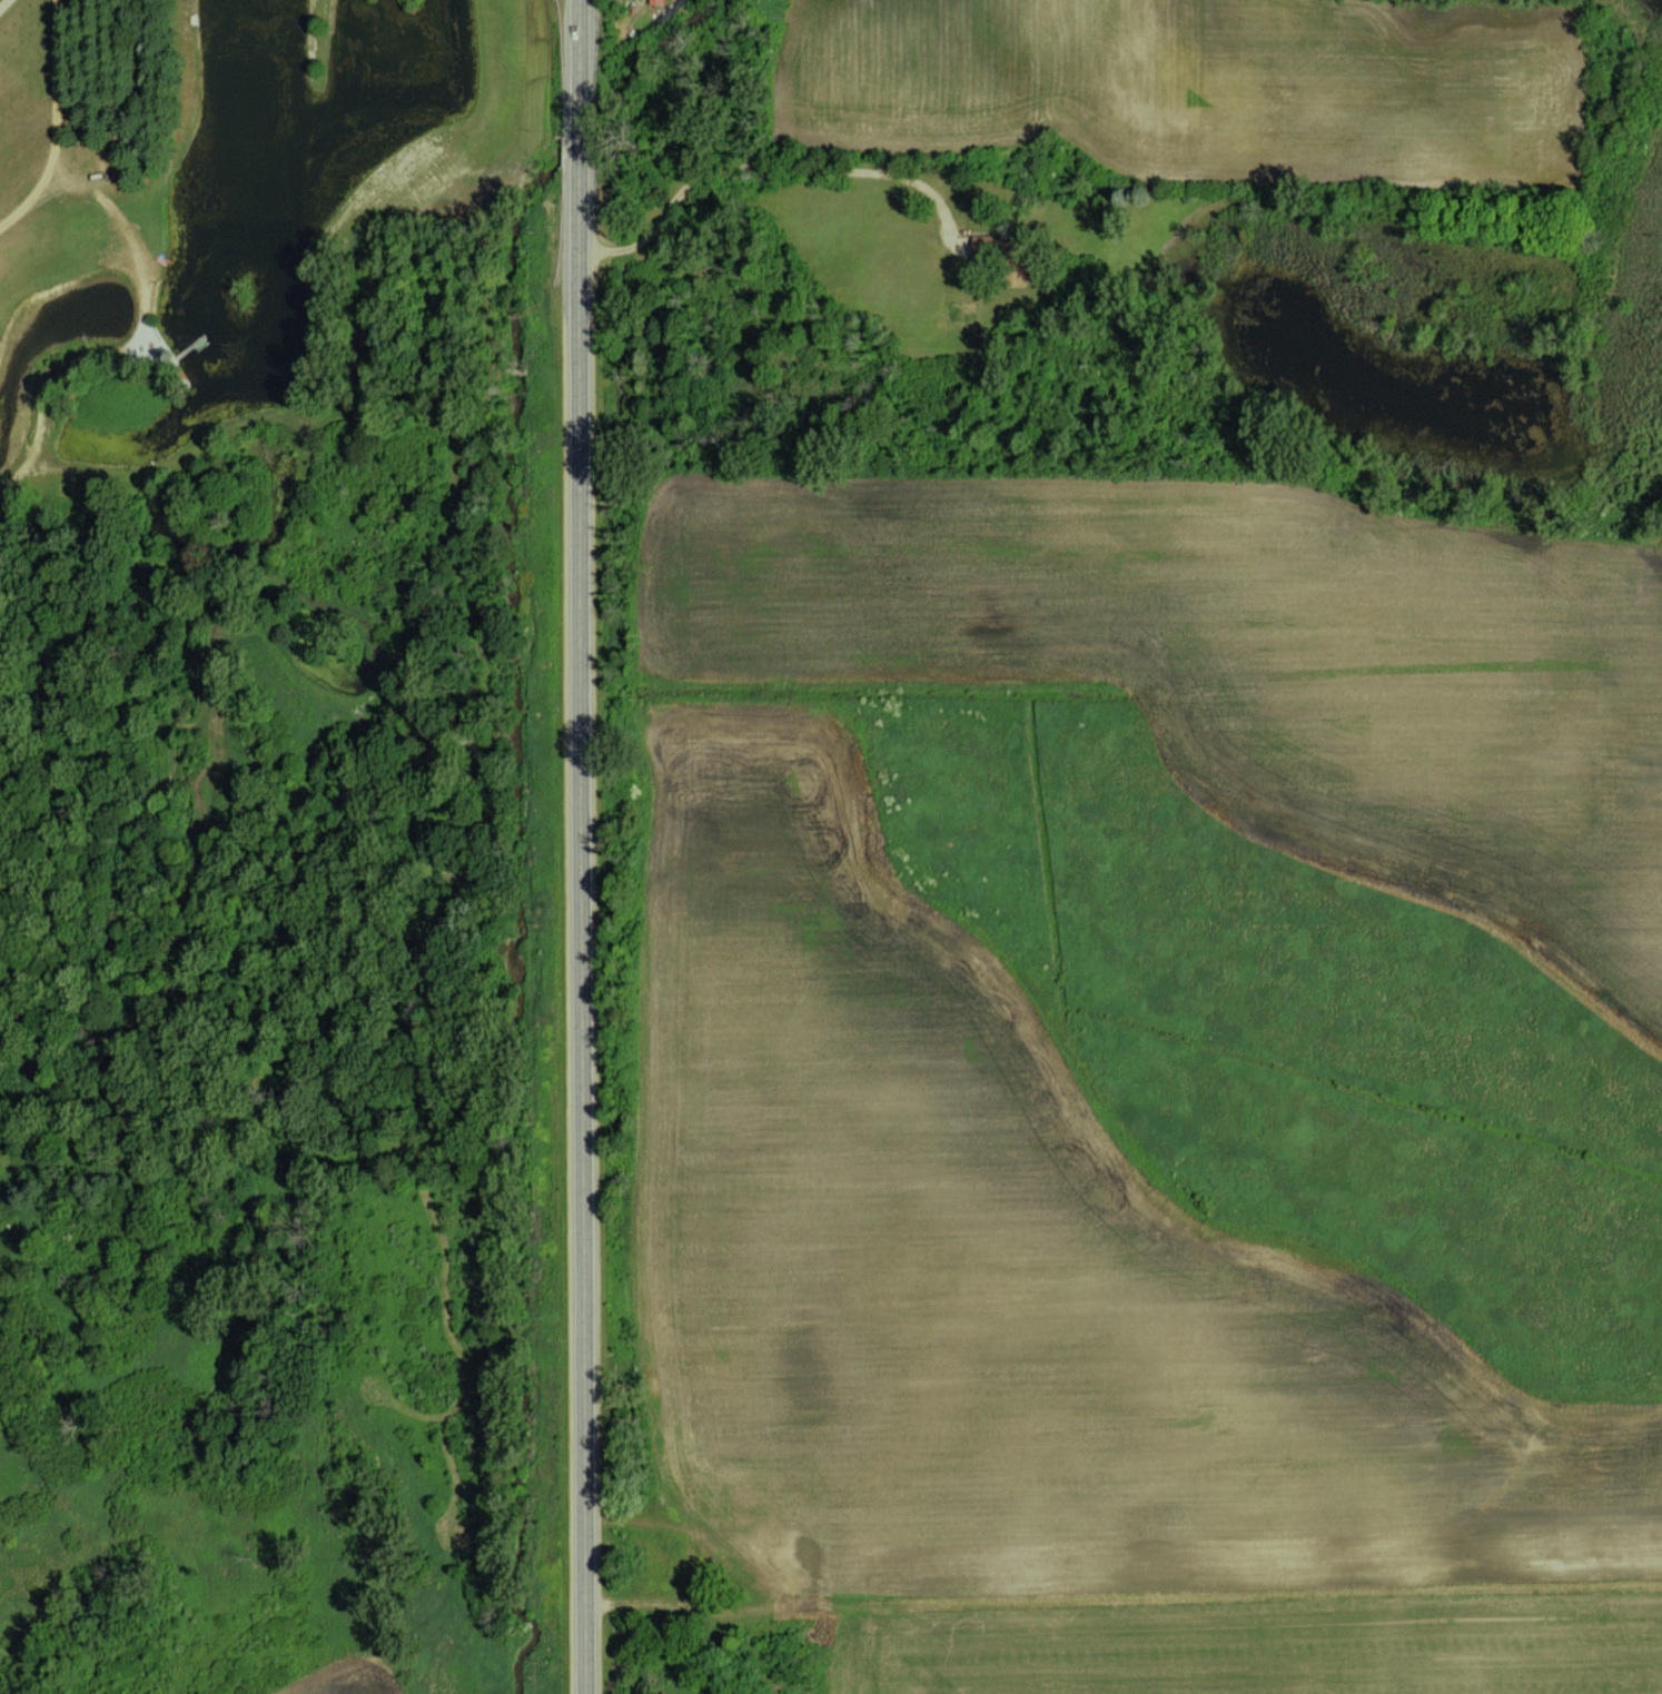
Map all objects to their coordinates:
building: (653, 2)
road: (572, 48)
road: (573, 130)
road: (764, 165)
building: (982, 242)
road: (577, 929)

